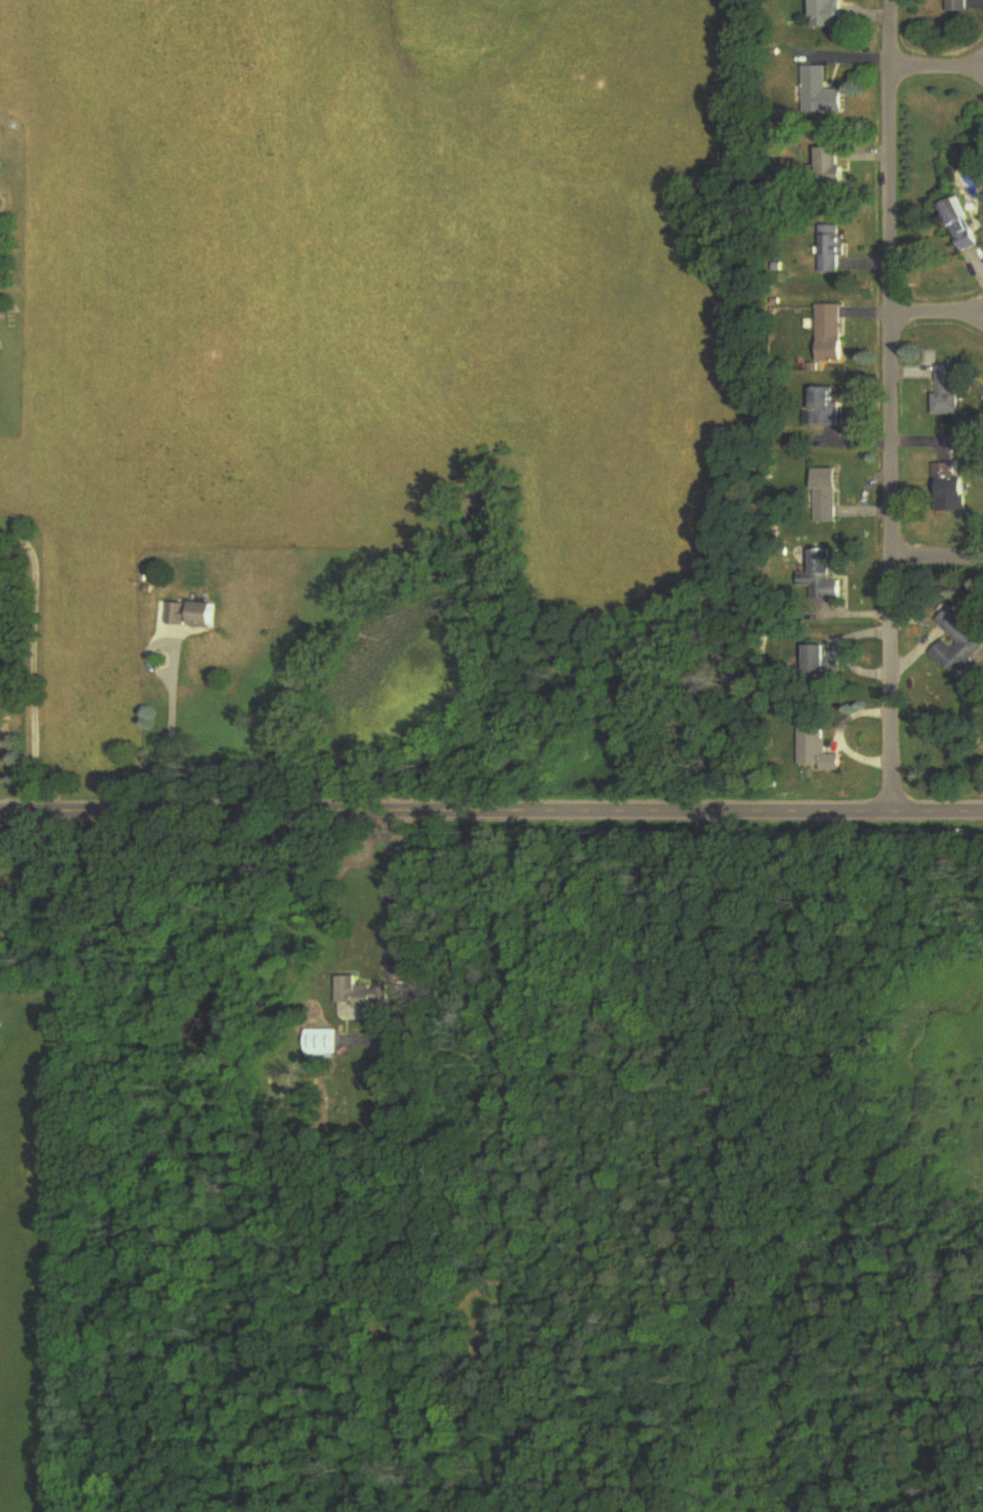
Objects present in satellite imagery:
building: (959, 6)
building: (829, 14)
road: (939, 72)
building: (821, 93)
building: (833, 174)
building: (962, 225)
building: (832, 251)
road: (937, 318)
building: (830, 336)
building: (948, 391)
building: (826, 407)
road: (892, 407)
building: (950, 489)
building: (826, 491)
road: (937, 559)
building: (824, 576)
building: (194, 615)
building: (957, 643)
road: (34, 662)
building: (824, 662)
road: (169, 729)
building: (818, 753)
road: (491, 807)
road: (384, 891)
building: (363, 997)
building: (322, 1042)

